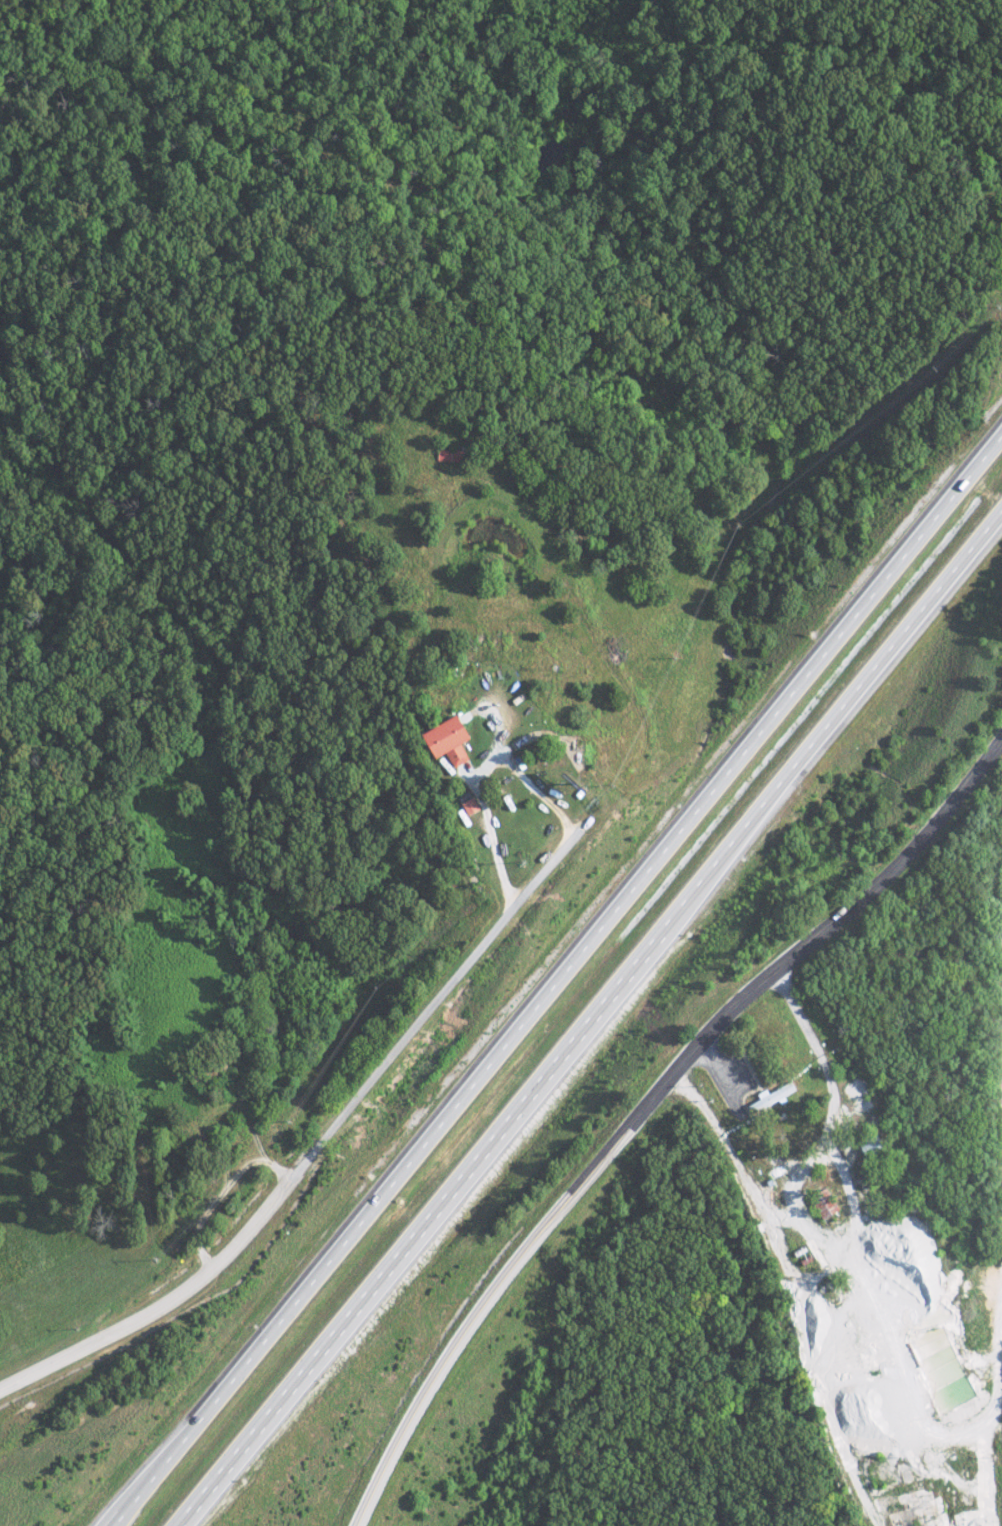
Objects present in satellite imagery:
building: (442, 741)
building: (467, 805)
road: (559, 982)
road: (587, 1016)
building: (767, 1096)
road: (643, 1109)
road: (325, 1138)
building: (819, 1202)

